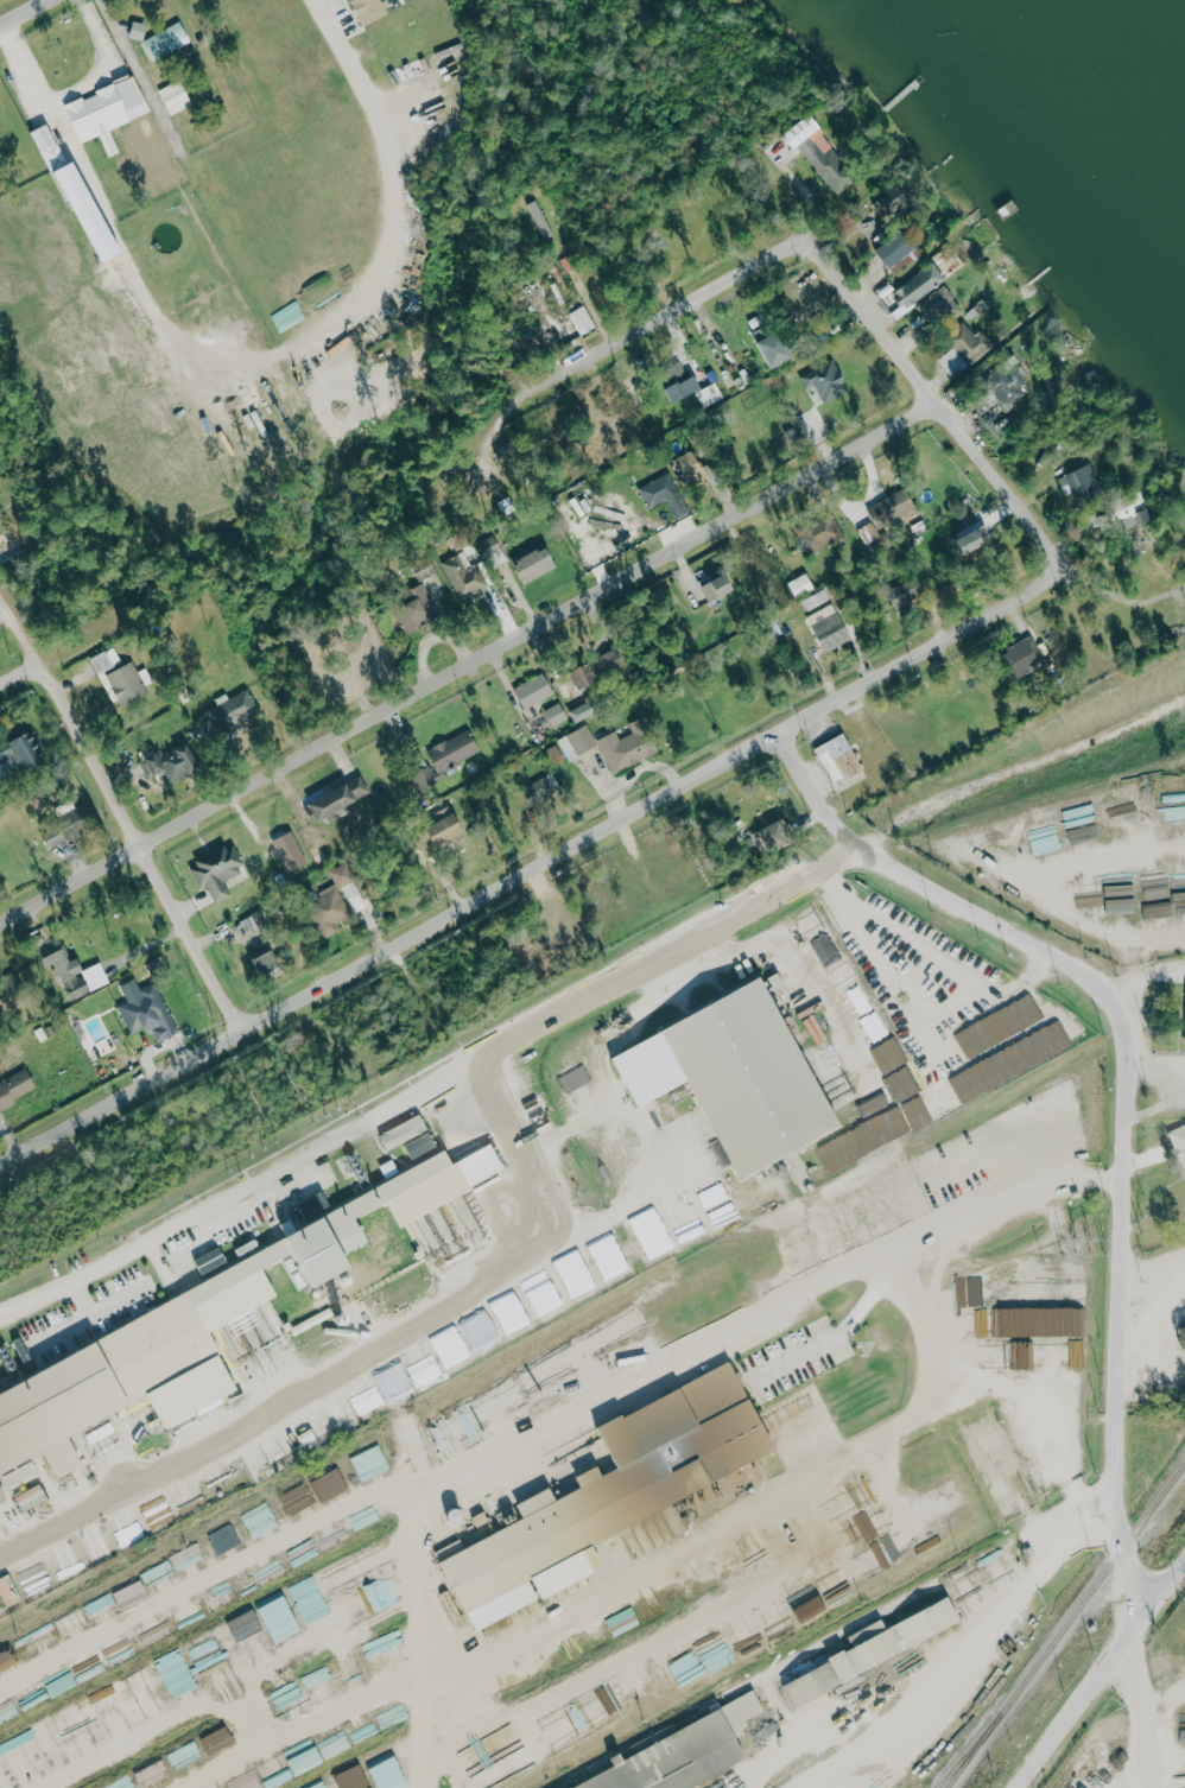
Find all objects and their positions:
road: (18, 9)
building: (369, 9)
building: (138, 31)
building: (166, 40)
road: (102, 63)
building: (175, 97)
building: (108, 104)
building: (49, 146)
building: (824, 154)
building: (68, 182)
road: (97, 202)
building: (891, 203)
building: (541, 220)
road: (393, 224)
building: (921, 285)
road: (714, 286)
building: (939, 305)
building: (582, 321)
building: (969, 343)
building: (778, 350)
building: (825, 381)
building: (1005, 387)
building: (685, 393)
road: (969, 426)
building: (693, 469)
building: (1082, 484)
building: (665, 495)
building: (887, 518)
building: (818, 533)
building: (976, 543)
road: (224, 560)
building: (536, 565)
building: (464, 576)
building: (801, 585)
building: (718, 588)
building: (905, 604)
building: (418, 613)
building: (826, 621)
building: (1019, 655)
road: (471, 657)
building: (119, 678)
building: (534, 691)
building: (230, 711)
building: (582, 712)
building: (556, 715)
building: (613, 746)
building: (454, 752)
building: (25, 753)
building: (839, 759)
building: (172, 763)
road: (1018, 767)
building: (425, 781)
building: (540, 792)
building: (341, 799)
road: (121, 807)
building: (448, 829)
building: (775, 836)
road: (537, 867)
building: (217, 870)
building: (336, 900)
road: (1136, 952)
building: (267, 962)
building: (76, 974)
building: (844, 977)
building: (777, 981)
building: (1181, 1012)
building: (148, 1013)
building: (813, 1022)
road: (671, 1076)
building: (739, 1076)
building: (14, 1088)
road: (1123, 1090)
road: (427, 1091)
building: (405, 1131)
building: (1177, 1143)
building: (420, 1145)
road: (740, 1153)
building: (898, 1199)
building: (313, 1205)
building: (686, 1222)
building: (807, 1236)
building: (655, 1239)
building: (210, 1261)
building: (576, 1276)
road: (1153, 1280)
building: (716, 1294)
building: (508, 1312)
building: (627, 1323)
building: (479, 1330)
building: (180, 1337)
building: (585, 1346)
building: (450, 1348)
road: (773, 1363)
building: (425, 1368)
building: (537, 1375)
road: (203, 1440)
building: (414, 1440)
road: (423, 1459)
building: (369, 1463)
building: (330, 1484)
building: (616, 1494)
building: (294, 1496)
building: (948, 1497)
building: (137, 1511)
building: (512, 1515)
road: (211, 1575)
building: (5, 1593)
building: (373, 1619)
railway: (1065, 1624)
building: (265, 1627)
building: (895, 1637)
road: (951, 1651)
building: (7, 1659)
road: (214, 1668)
road: (1096, 1674)
building: (813, 1685)
road: (1142, 1705)
road: (332, 1733)
building: (687, 1752)
railway: (957, 1761)
building: (388, 1774)
building: (152, 1775)
building: (876, 1783)

